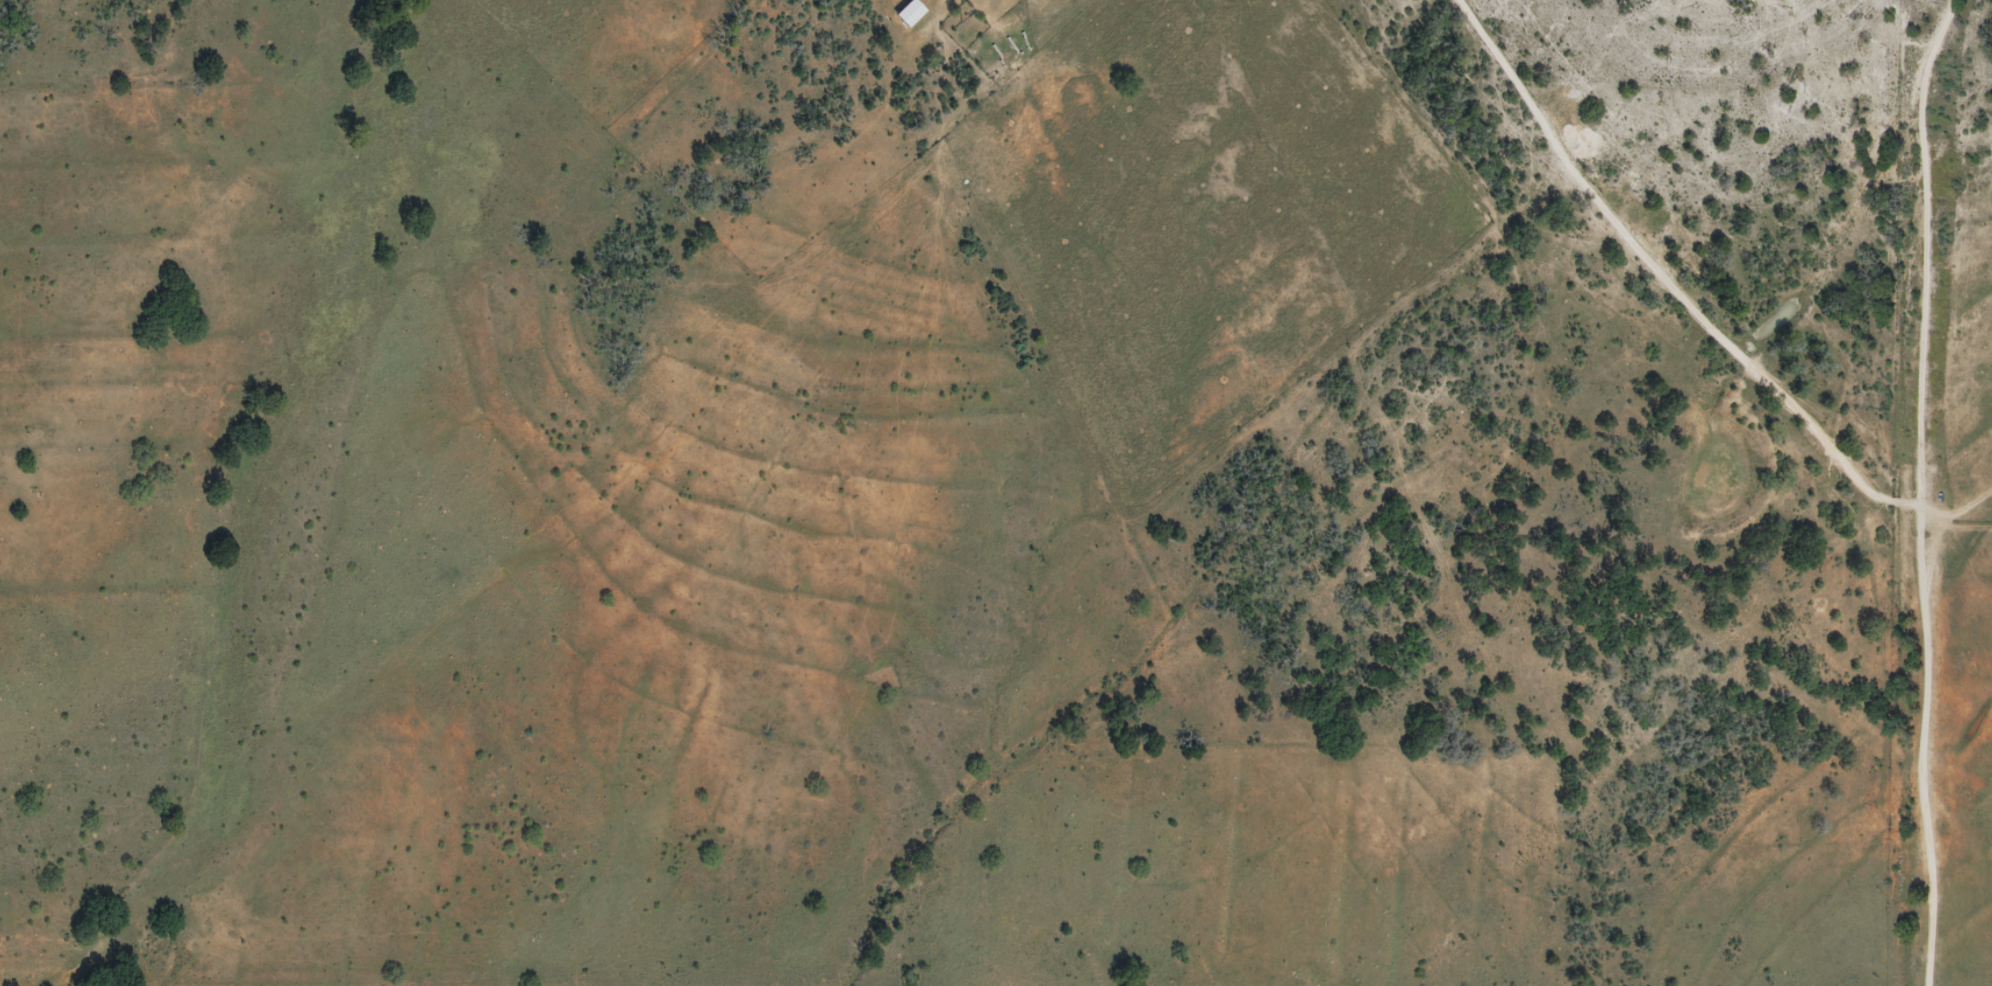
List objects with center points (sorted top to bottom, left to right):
building: (907, 15)
road: (1913, 611)

